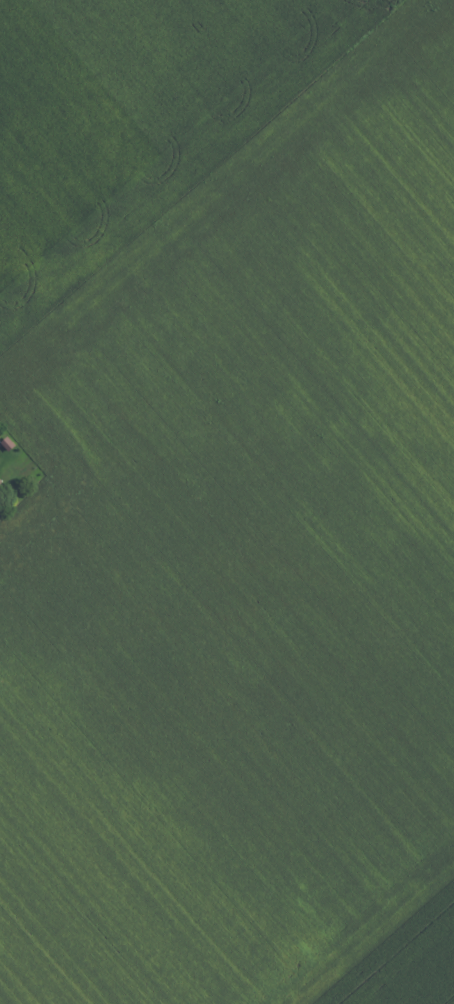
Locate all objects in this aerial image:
building: (2, 488)

